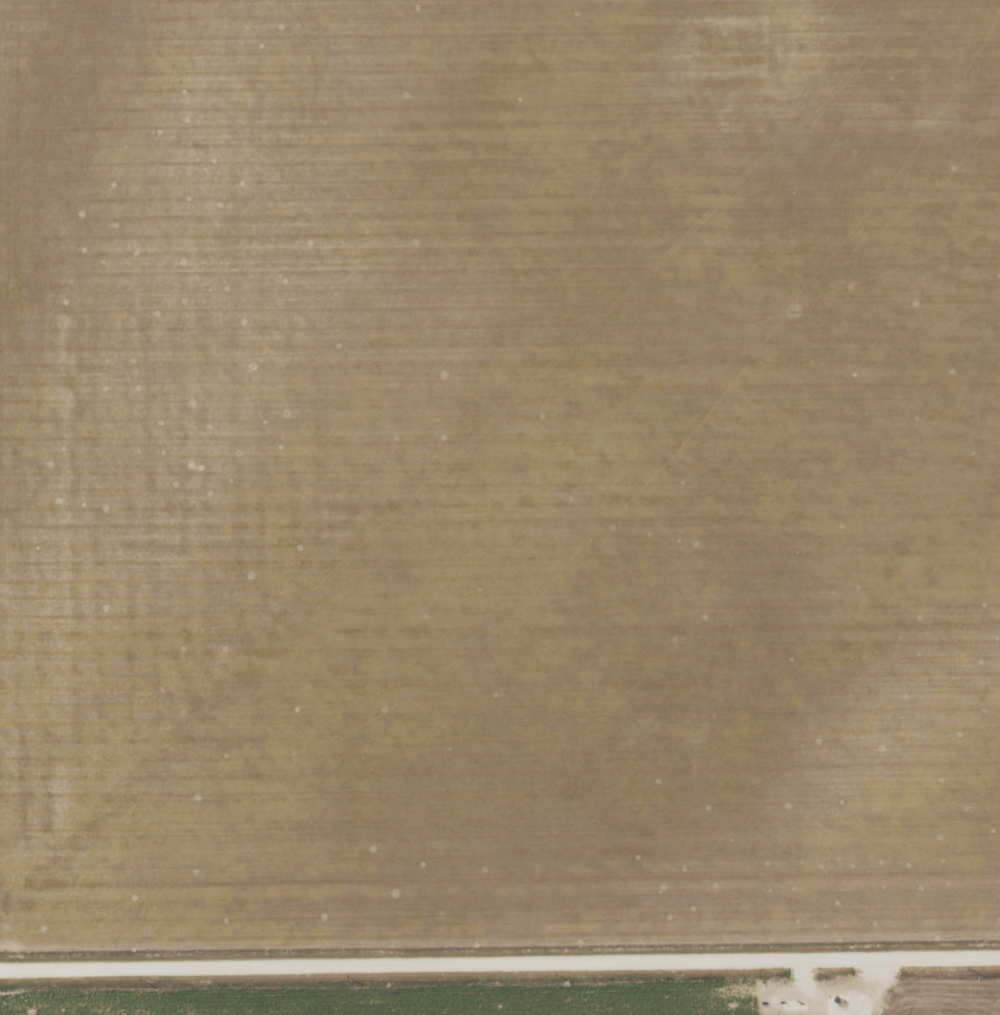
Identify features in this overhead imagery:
road: (500, 959)

